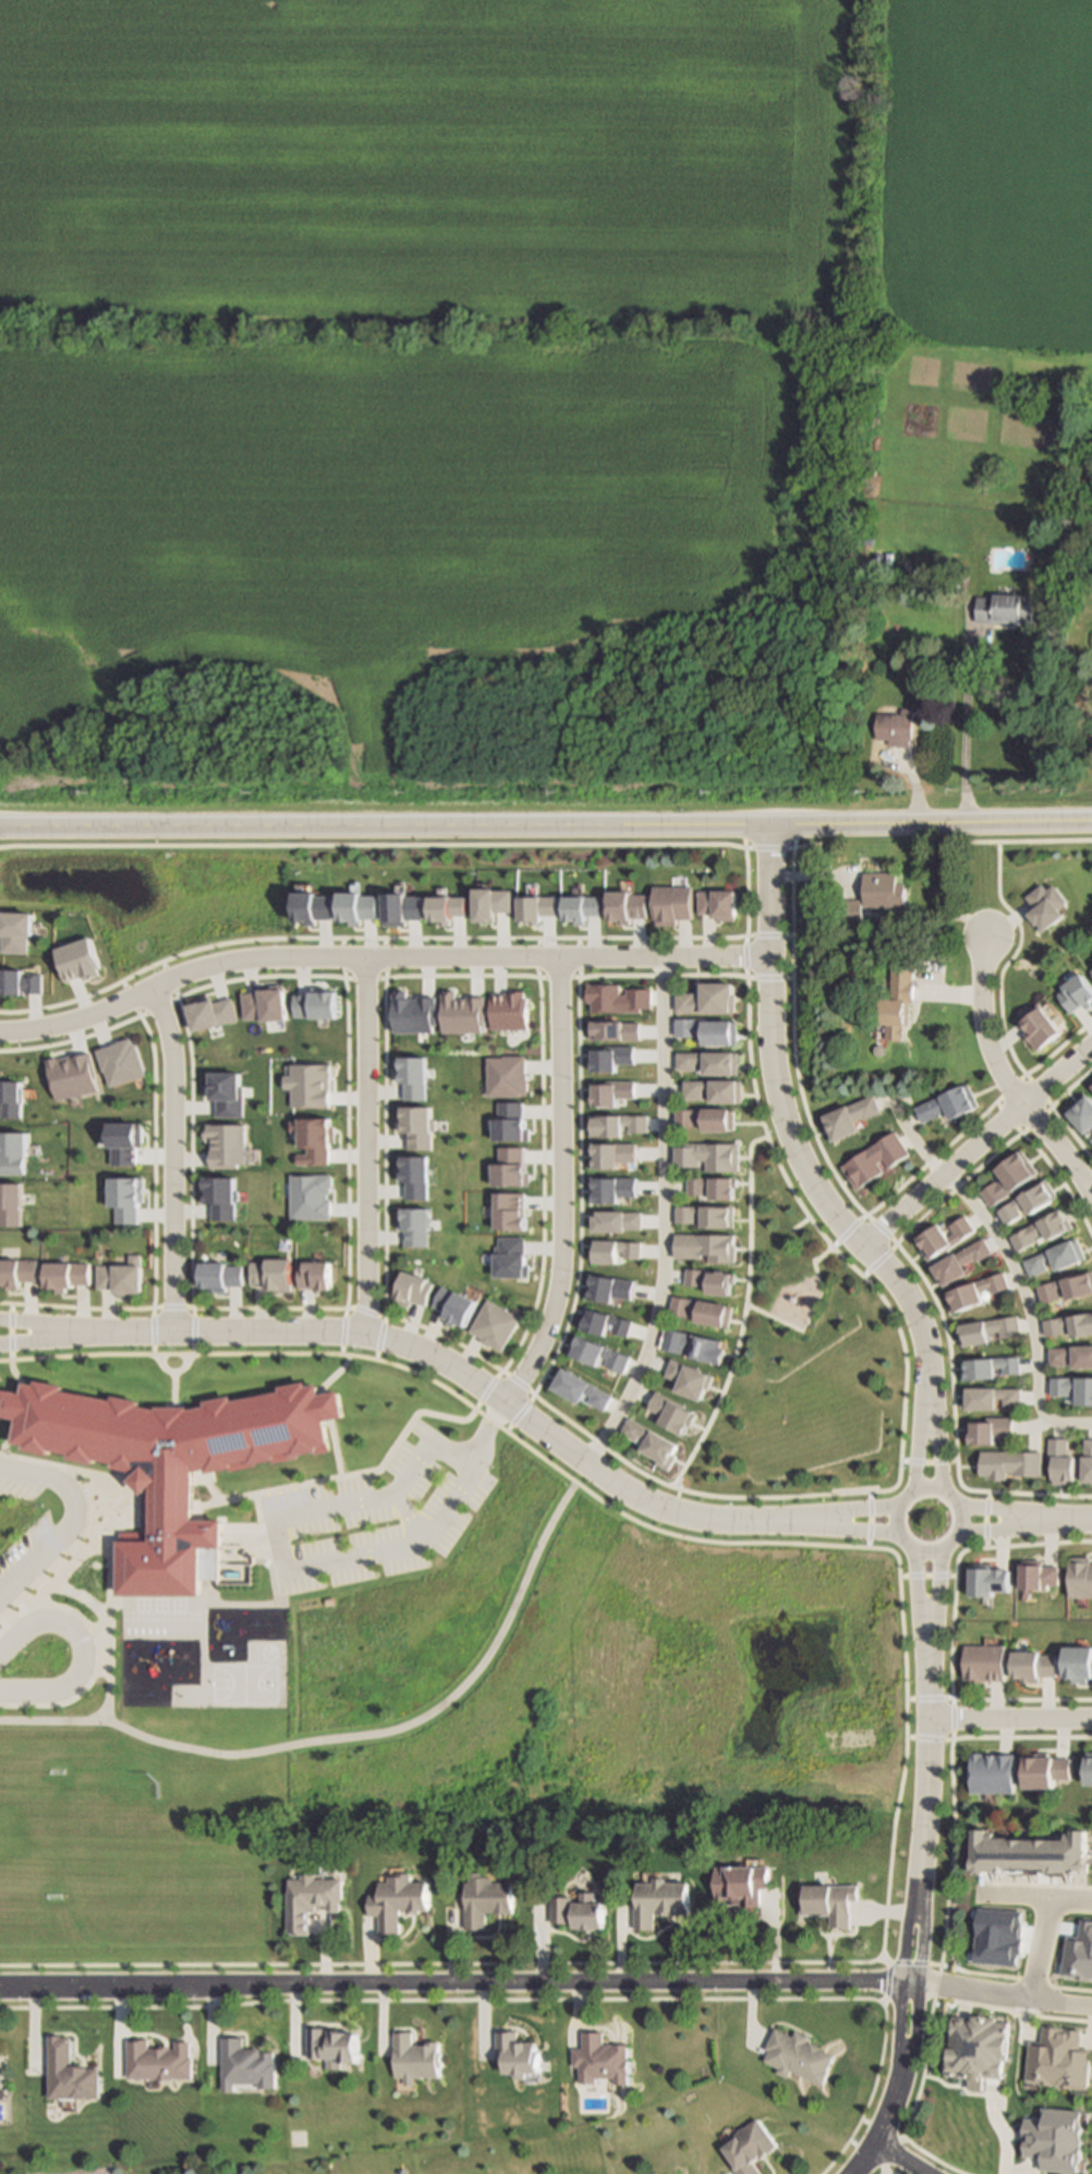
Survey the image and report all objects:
crop: (593, 159)
building: (1005, 607)
road: (963, 720)
building: (897, 726)
road: (546, 825)
road: (999, 868)
building: (884, 890)
building: (718, 903)
building: (672, 904)
building: (1048, 905)
building: (852, 908)
road: (771, 935)
road: (413, 938)
road: (713, 954)
road: (323, 956)
road: (744, 956)
road: (556, 975)
road: (363, 977)
road: (428, 977)
road: (768, 979)
building: (708, 999)
building: (898, 1001)
road: (155, 1007)
building: (1040, 1026)
building: (708, 1030)
building: (709, 1062)
road: (1019, 1066)
road: (1002, 1079)
building: (714, 1090)
building: (948, 1103)
road: (1048, 1111)
building: (1081, 1111)
building: (847, 1115)
building: (706, 1119)
road: (810, 1126)
building: (1091, 1138)
road: (362, 1143)
road: (973, 1144)
road: (796, 1152)
building: (708, 1155)
road: (166, 1156)
building: (874, 1162)
road: (148, 1165)
building: (1009, 1177)
road: (1085, 1182)
road: (557, 1183)
building: (1029, 1201)
road: (662, 1216)
building: (706, 1216)
road: (846, 1230)
building: (1042, 1230)
road: (881, 1231)
building: (944, 1237)
building: (705, 1247)
building: (1055, 1257)
building: (960, 1260)
road: (875, 1264)
road: (1006, 1264)
building: (17, 1270)
road: (914, 1273)
building: (218, 1276)
building: (315, 1276)
building: (64, 1277)
building: (120, 1277)
building: (1066, 1284)
building: (412, 1287)
building: (974, 1291)
road: (343, 1292)
building: (702, 1306)
road: (168, 1307)
road: (364, 1313)
road: (744, 1315)
road: (810, 1317)
building: (494, 1321)
building: (1068, 1322)
road: (17, 1326)
building: (987, 1328)
road: (17, 1337)
building: (675, 1342)
building: (708, 1351)
building: (1070, 1354)
building: (987, 1364)
park: (802, 1366)
road: (457, 1368)
building: (690, 1375)
road: (519, 1384)
building: (1071, 1386)
building: (991, 1396)
building: (672, 1409)
building: (987, 1428)
building: (654, 1440)
building: (1056, 1459)
road: (926, 1463)
building: (169, 1464)
road: (918, 1464)
road: (935, 1464)
building: (1009, 1465)
road: (848, 1491)
road: (948, 1500)
road: (869, 1512)
road: (980, 1512)
road: (984, 1519)
road: (1047, 1519)
road: (72, 1520)
road: (870, 1520)
road: (279, 1526)
road: (871, 1529)
road: (979, 1531)
road: (915, 1574)
building: (1038, 1574)
road: (935, 1575)
road: (927, 1577)
building: (1080, 1577)
building: (988, 1580)
road: (951, 1629)
road: (75, 1643)
building: (985, 1660)
building: (1078, 1663)
building: (1032, 1665)
park: (240, 1686)
road: (927, 1699)
road: (102, 1701)
road: (1010, 1716)
road: (951, 1718)
road: (351, 1738)
road: (927, 1740)
building: (1090, 1768)
building: (1046, 1772)
building: (993, 1774)
road: (949, 1782)
road: (923, 1791)
building: (1031, 1859)
building: (740, 1879)
building: (484, 1895)
building: (308, 1896)
building: (657, 1896)
building: (828, 1896)
building: (395, 1897)
road: (1035, 1897)
building: (578, 1905)
road: (1040, 1946)
road: (812, 1964)
road: (909, 1964)
road: (453, 1981)
road: (999, 1991)
building: (331, 2041)
building: (981, 2043)
building: (515, 2050)
building: (798, 2051)
building: (412, 2054)
building: (599, 2055)
building: (157, 2056)
building: (246, 2061)
building: (0, 2067)
building: (66, 2067)
road: (897, 2082)
building: (748, 2146)
road: (897, 2158)
road: (879, 2172)
building: (679, 2173)

